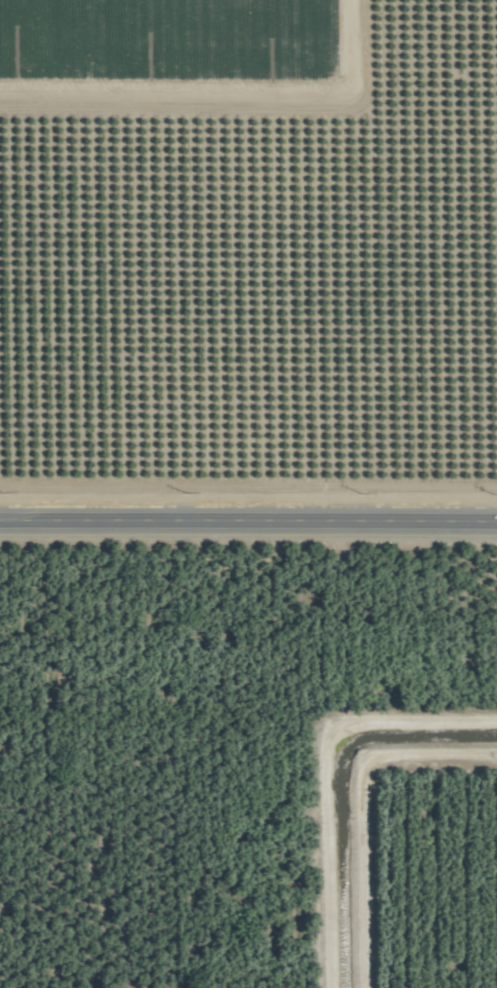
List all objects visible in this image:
road: (224, 90)
crop: (248, 494)
road: (248, 521)

